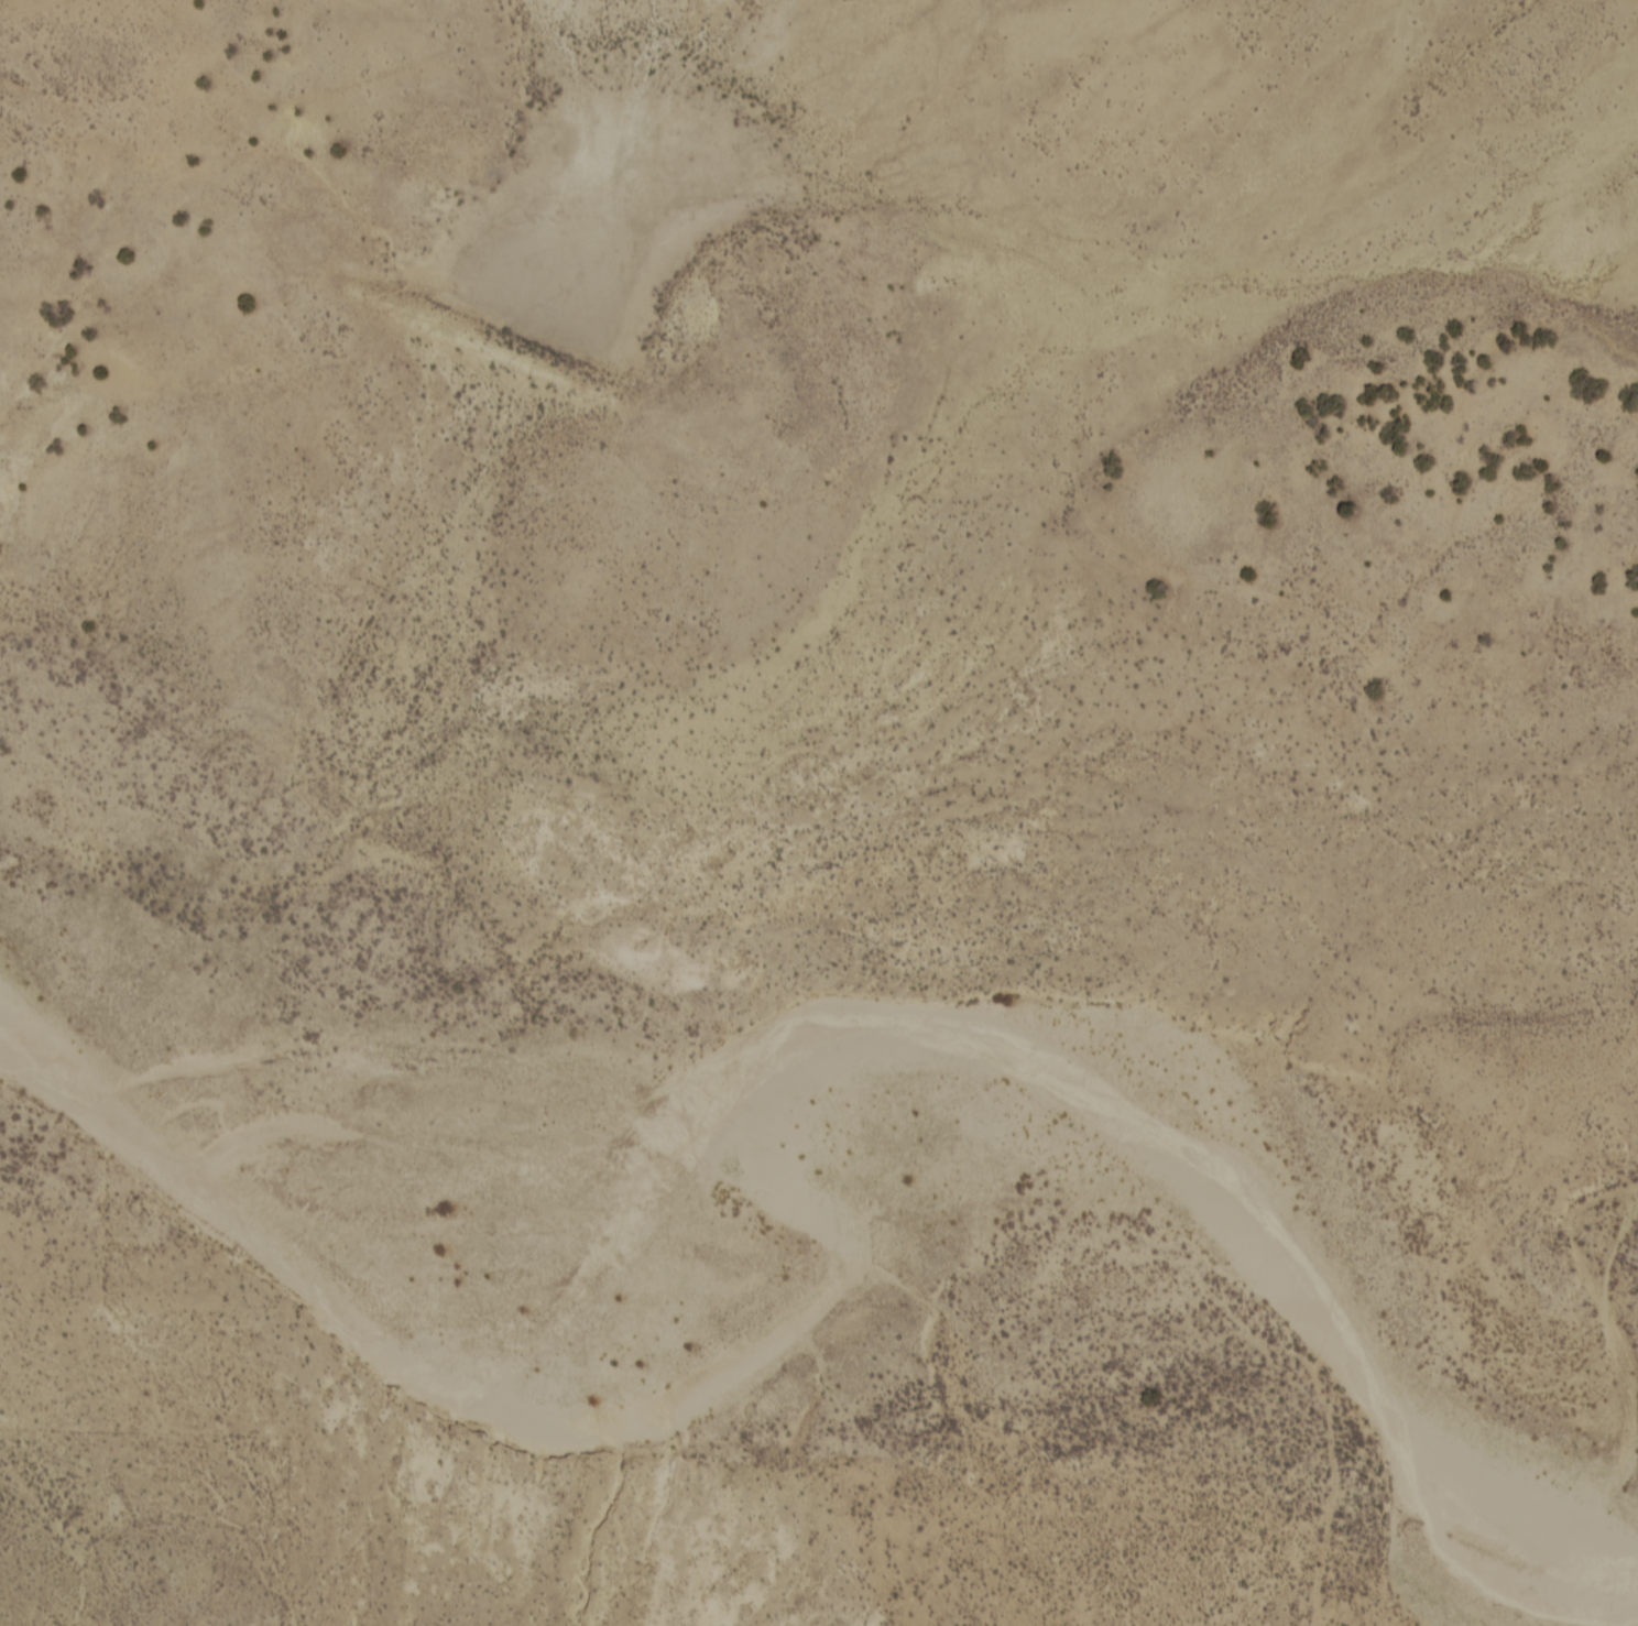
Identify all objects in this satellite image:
river: (787, 1158)

